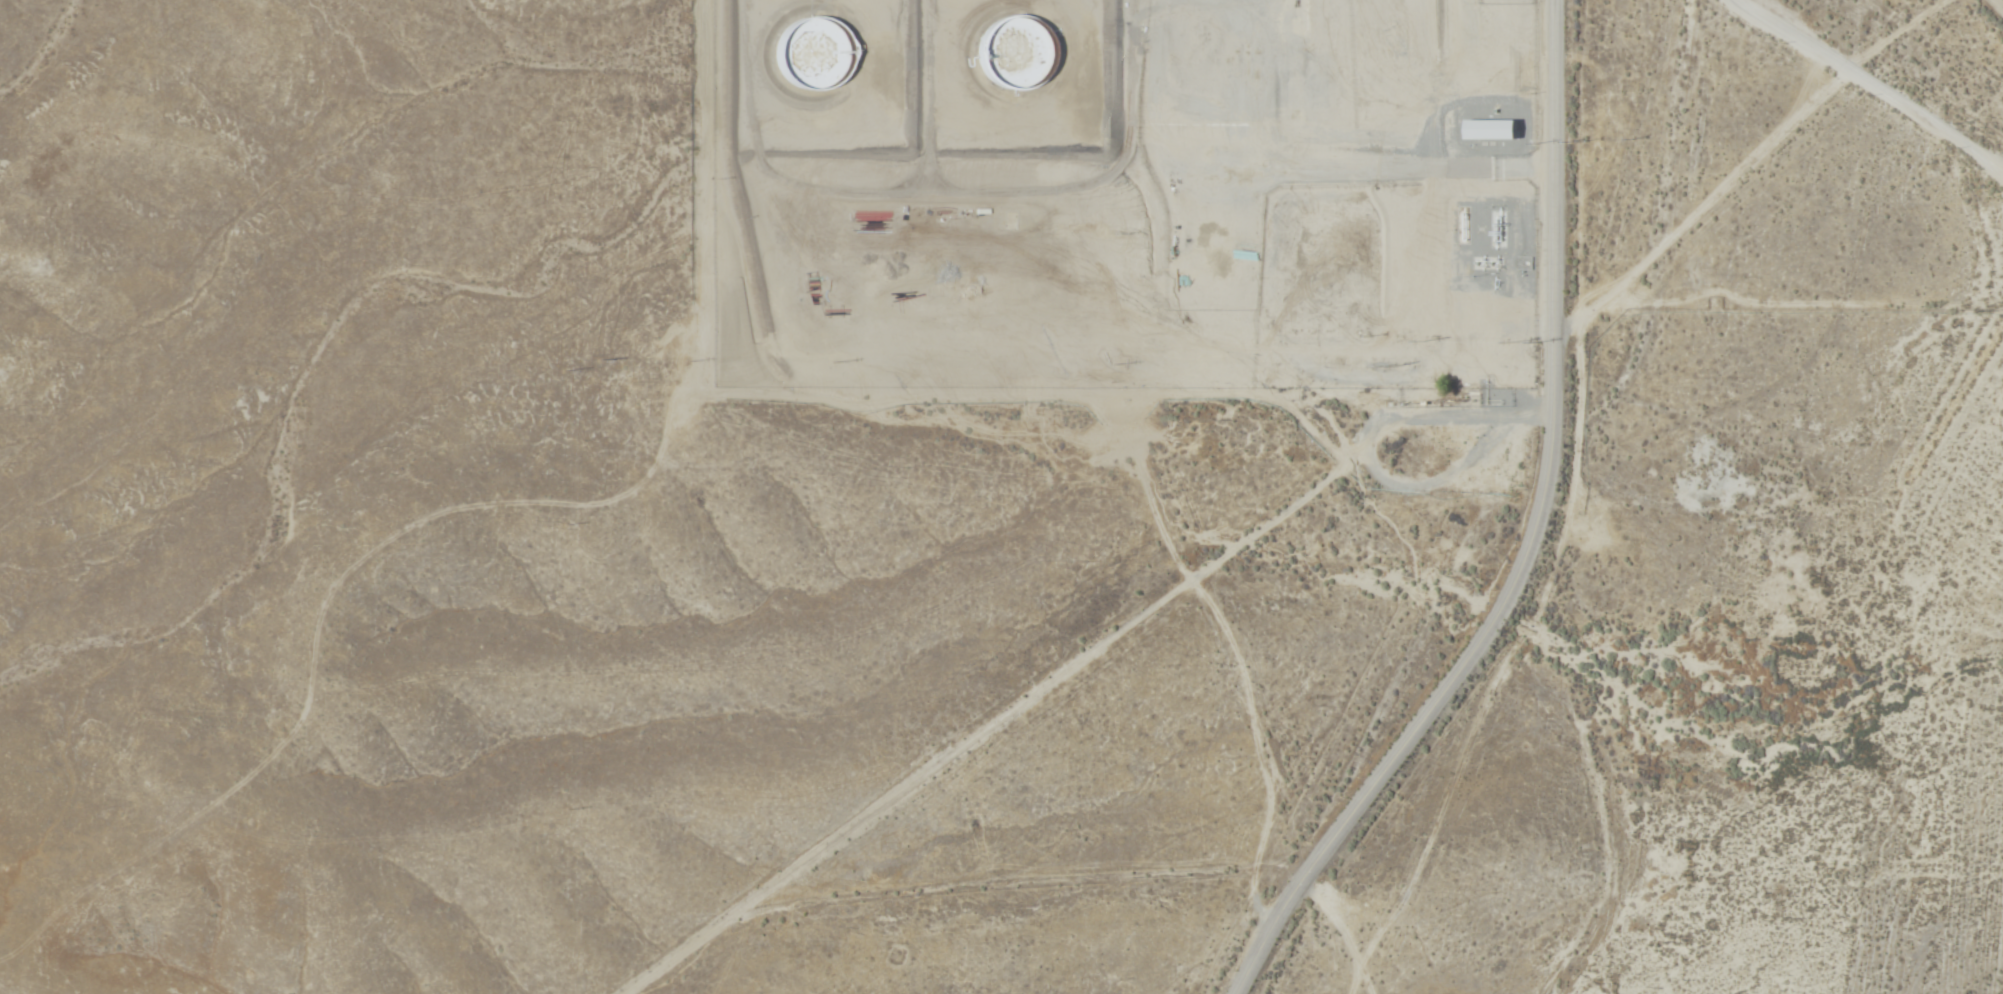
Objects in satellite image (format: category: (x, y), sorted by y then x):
road: (1565, 6)
building: (1013, 51)
building: (814, 53)
road: (1868, 81)
road: (931, 396)
road: (1534, 541)
road: (1630, 857)

